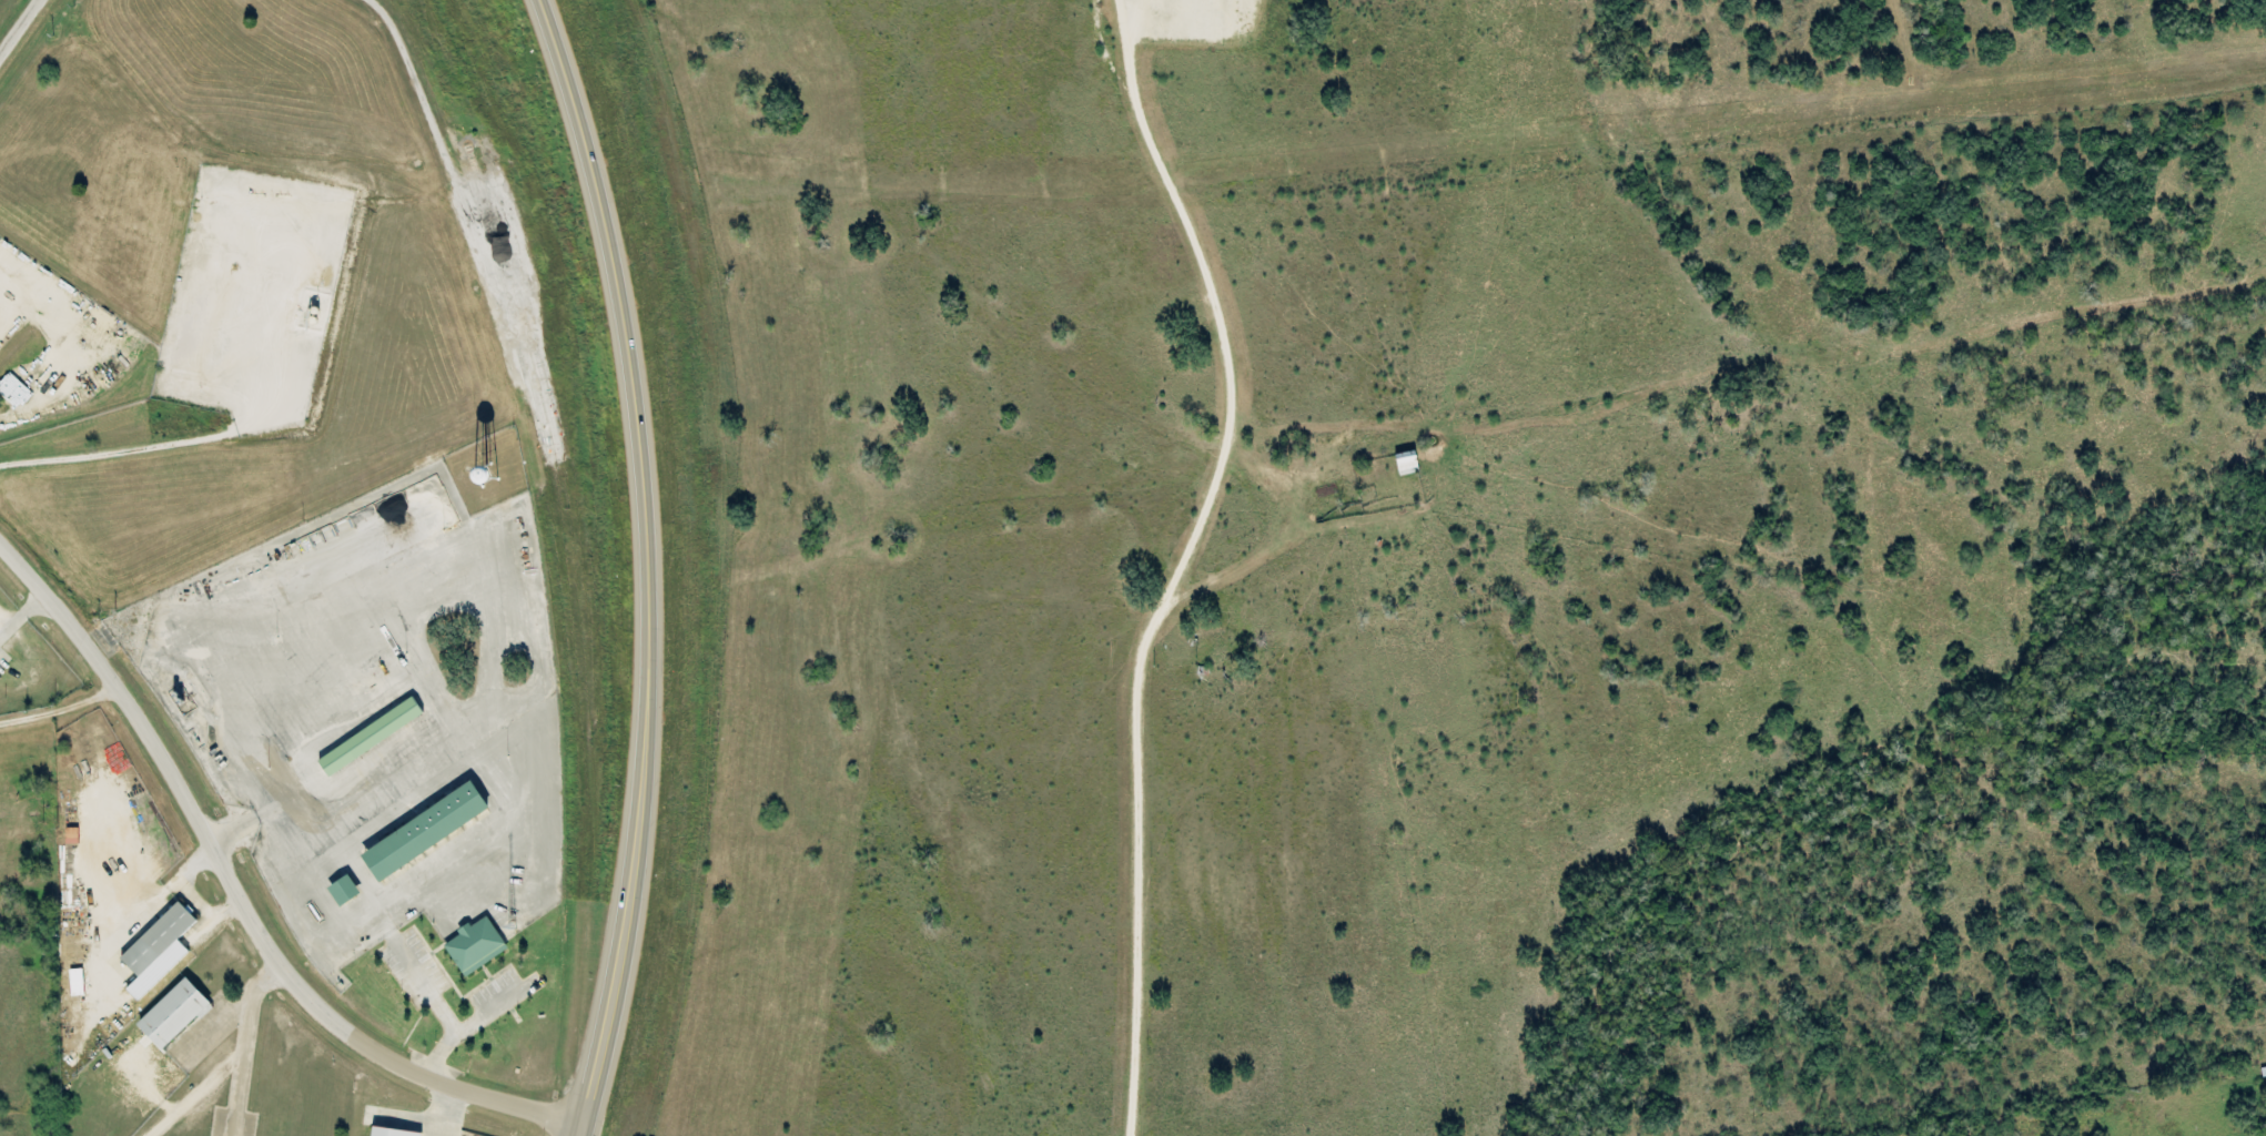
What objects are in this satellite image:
road: (20, 28)
building: (14, 390)
building: (1409, 464)
road: (1183, 562)
road: (645, 565)
road: (64, 712)
building: (373, 738)
building: (428, 832)
building: (346, 891)
road: (237, 900)
building: (477, 946)
building: (160, 951)
building: (176, 1015)
building: (393, 1133)

